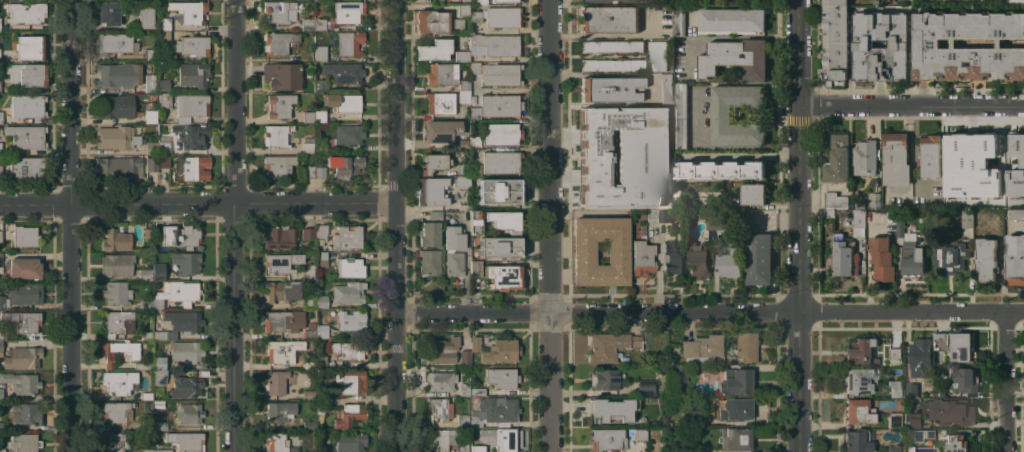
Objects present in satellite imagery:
building: (504, 0)
building: (1009, 0)
building: (474, 1)
building: (463, 9)
building: (190, 11)
building: (279, 11)
building: (348, 11)
building: (26, 12)
building: (110, 13)
building: (498, 16)
building: (146, 17)
building: (609, 18)
building: (679, 19)
building: (732, 19)
building: (435, 21)
building: (164, 23)
building: (307, 23)
building: (320, 24)
building: (0, 27)
building: (164, 36)
building: (835, 39)
building: (114, 42)
building: (279, 42)
building: (349, 43)
building: (863, 43)
building: (192, 45)
building: (494, 45)
building: (967, 45)
building: (29, 46)
building: (611, 46)
building: (434, 49)
building: (321, 53)
building: (151, 54)
building: (658, 55)
building: (461, 56)
building: (735, 57)
building: (305, 58)
building: (613, 64)
building: (475, 67)
building: (343, 71)
building: (27, 74)
building: (119, 74)
building: (193, 74)
building: (442, 74)
building: (500, 74)
building: (282, 76)
building: (150, 83)
building: (164, 84)
building: (321, 85)
building: (666, 88)
building: (611, 89)
building: (463, 91)
building: (165, 100)
building: (343, 102)
building: (441, 102)
building: (27, 105)
building: (280, 105)
building: (500, 105)
road: (910, 105)
building: (115, 106)
building: (191, 107)
building: (475, 112)
building: (721, 114)
building: (680, 115)
building: (150, 116)
building: (320, 116)
building: (1, 117)
building: (309, 117)
building: (667, 117)
building: (587, 118)
building: (614, 118)
building: (442, 131)
building: (641, 132)
building: (501, 133)
building: (348, 134)
building: (276, 135)
building: (26, 136)
building: (190, 136)
building: (116, 137)
building: (475, 138)
building: (462, 143)
building: (307, 145)
building: (587, 145)
building: (614, 145)
building: (151, 147)
building: (164, 147)
road: (720, 147)
building: (0, 148)
building: (320, 148)
building: (1016, 155)
building: (929, 156)
building: (865, 157)
building: (896, 158)
building: (838, 160)
building: (955, 160)
building: (986, 160)
building: (164, 162)
building: (500, 162)
building: (433, 163)
building: (152, 164)
building: (742, 164)
building: (278, 165)
building: (119, 166)
building: (346, 166)
building: (600, 167)
building: (192, 168)
building: (28, 169)
building: (463, 169)
building: (475, 169)
building: (0, 170)
building: (308, 171)
building: (320, 172)
building: (460, 181)
building: (475, 181)
building: (637, 181)
building: (666, 182)
building: (500, 190)
building: (431, 191)
building: (753, 193)
building: (600, 195)
building: (989, 197)
building: (875, 198)
building: (834, 199)
building: (967, 199)
building: (708, 202)
road: (197, 203)
building: (464, 206)
building: (1017, 213)
building: (435, 215)
building: (653, 215)
building: (665, 215)
building: (967, 219)
building: (494, 220)
building: (979, 221)
building: (859, 222)
road: (70, 225)
road: (233, 225)
road: (395, 225)
road: (797, 225)
road: (548, 226)
building: (901, 227)
building: (148, 233)
building: (308, 233)
building: (320, 233)
building: (429, 233)
building: (186, 235)
building: (0, 236)
building: (25, 236)
building: (680, 236)
building: (280, 237)
building: (347, 237)
building: (116, 240)
building: (159, 245)
building: (501, 245)
building: (449, 251)
building: (584, 252)
building: (674, 256)
building: (845, 256)
building: (950, 256)
building: (0, 257)
building: (642, 257)
building: (320, 258)
building: (759, 258)
building: (883, 258)
building: (913, 258)
building: (730, 259)
building: (987, 259)
building: (699, 260)
building: (1015, 260)
building: (186, 262)
building: (281, 262)
building: (429, 262)
building: (116, 264)
building: (350, 267)
building: (24, 268)
building: (475, 268)
building: (308, 272)
building: (145, 274)
building: (159, 274)
building: (503, 276)
building: (281, 291)
building: (116, 292)
building: (348, 292)
building: (24, 293)
building: (176, 293)
building: (3, 301)
building: (321, 301)
building: (308, 302)
building: (146, 304)
road: (709, 311)
building: (22, 320)
building: (283, 320)
building: (351, 320)
building: (184, 321)
building: (118, 323)
building: (309, 330)
building: (321, 331)
building: (2, 333)
building: (164, 334)
building: (146, 335)
building: (474, 343)
building: (610, 345)
building: (745, 346)
building: (961, 346)
building: (1, 348)
building: (702, 348)
building: (187, 350)
building: (281, 350)
building: (348, 350)
building: (443, 350)
building: (500, 351)
building: (861, 351)
building: (107, 355)
building: (896, 355)
building: (464, 356)
building: (23, 357)
building: (321, 361)
building: (158, 363)
building: (143, 365)
building: (308, 365)
building: (918, 365)
building: (678, 372)
building: (159, 377)
building: (502, 377)
building: (604, 379)
building: (860, 379)
building: (965, 379)
building: (351, 381)
building: (440, 381)
building: (734, 381)
building: (21, 382)
building: (119, 382)
building: (276, 382)
road: (1004, 382)
building: (185, 386)
building: (645, 387)
building: (895, 388)
building: (464, 390)
building: (939, 390)
building: (476, 391)
building: (322, 393)
building: (1, 394)
building: (307, 394)
building: (147, 396)
building: (159, 403)
building: (439, 408)
building: (611, 409)
building: (735, 409)
building: (320, 410)
building: (495, 410)
building: (280, 411)
building: (858, 411)
building: (947, 411)
building: (116, 412)
building: (25, 413)
building: (189, 413)
building: (147, 414)
building: (349, 415)
building: (690, 418)
building: (463, 420)
building: (894, 420)
building: (912, 420)
building: (147, 424)
building: (307, 424)
building: (159, 425)
building: (1, 426)
building: (641, 434)
building: (921, 434)
building: (500, 438)
building: (736, 438)
building: (443, 439)
building: (607, 439)
building: (186, 440)
building: (857, 440)
building: (350, 441)
building: (114, 442)
building: (956, 442)
building: (23, 443)
building: (278, 443)
building: (463, 444)
building: (477, 448)
building: (2, 449)
building: (895, 449)
building: (146, 450)
building: (163, 450)
building: (310, 451)
building: (323, 451)

